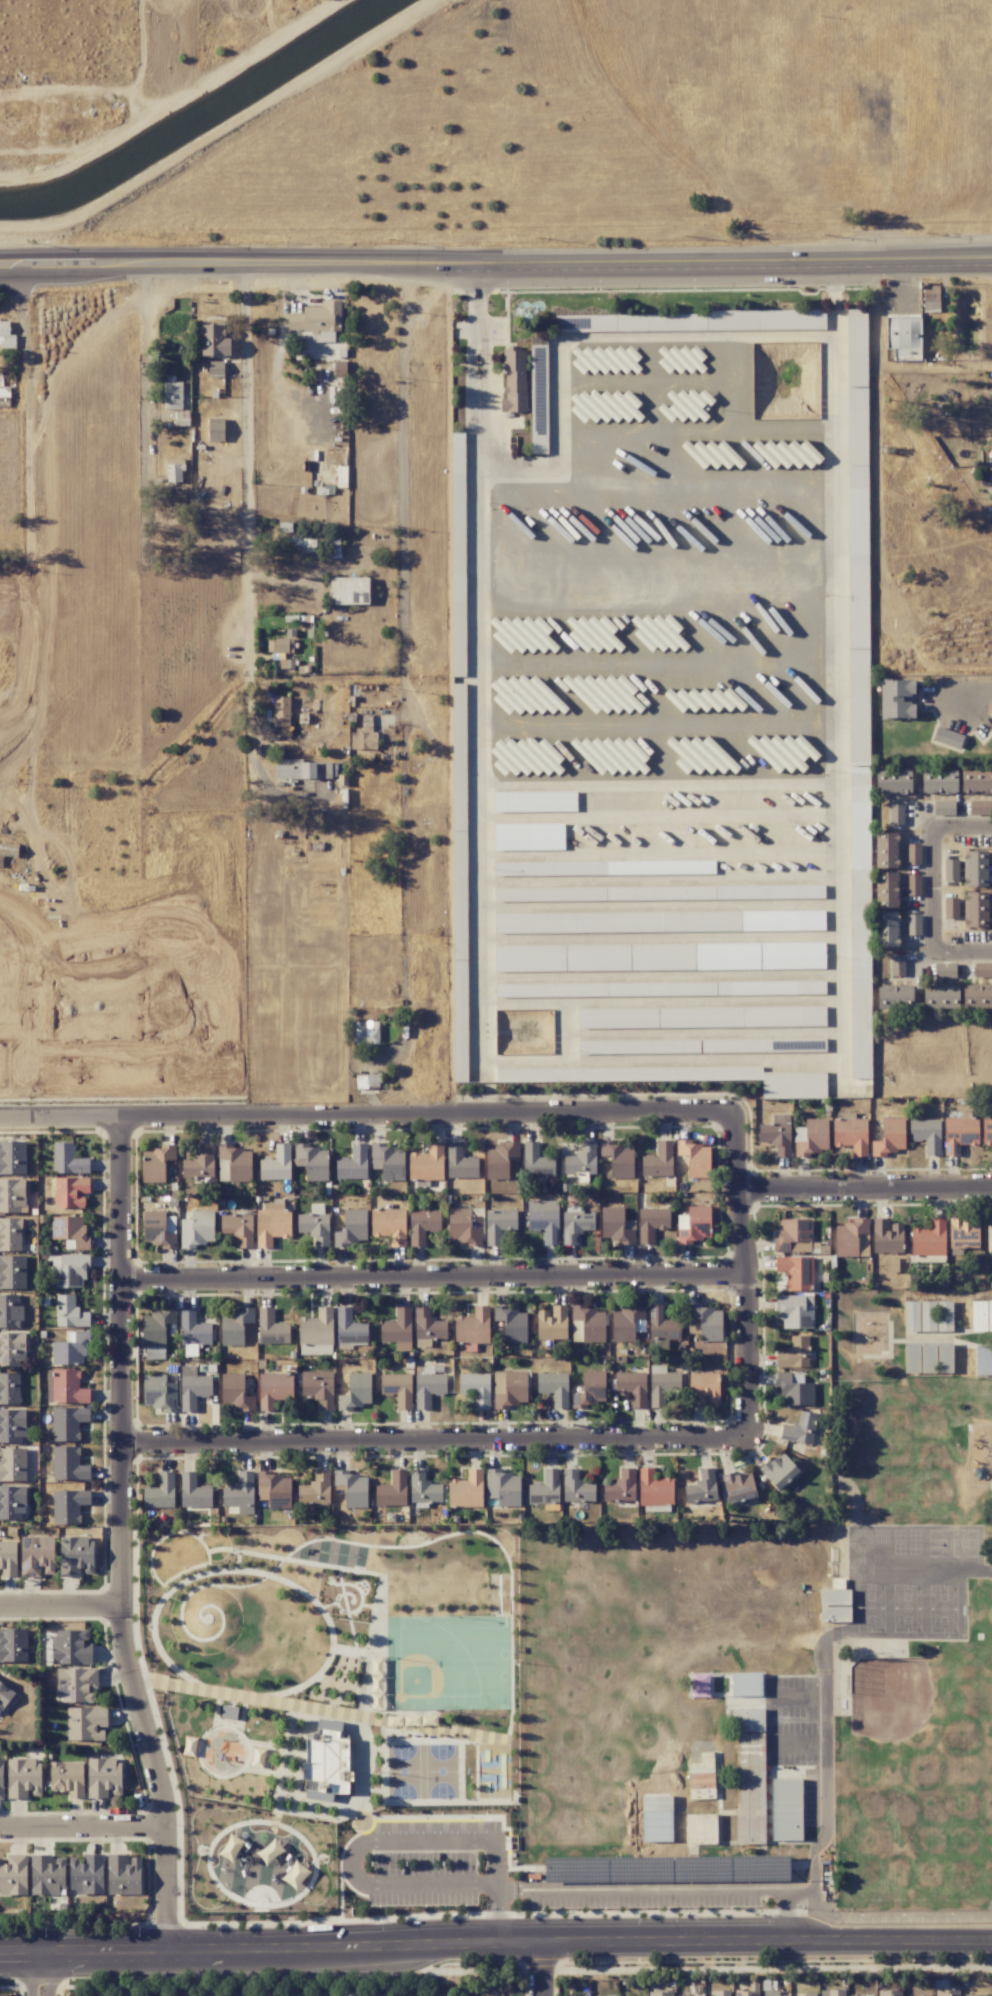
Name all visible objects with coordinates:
road: (495, 262)
building: (930, 298)
building: (765, 319)
building: (319, 320)
building: (680, 321)
building: (596, 323)
building: (6, 335)
building: (903, 335)
building: (214, 341)
building: (856, 347)
road: (142, 357)
building: (684, 358)
building: (603, 359)
building: (215, 368)
building: (514, 381)
building: (172, 393)
building: (694, 405)
building: (605, 406)
road: (246, 410)
building: (538, 410)
building: (216, 429)
building: (857, 433)
building: (789, 454)
building: (174, 470)
road: (403, 472)
building: (300, 543)
road: (661, 573)
building: (349, 590)
building: (598, 632)
building: (658, 632)
building: (522, 634)
building: (279, 645)
road: (249, 674)
building: (605, 687)
building: (524, 695)
road: (975, 697)
building: (704, 699)
building: (896, 699)
building: (281, 711)
building: (364, 735)
building: (948, 738)
building: (587, 747)
building: (784, 752)
building: (526, 757)
building: (303, 769)
building: (939, 781)
building: (976, 781)
building: (893, 782)
building: (535, 801)
building: (980, 807)
building: (943, 808)
building: (896, 814)
building: (528, 837)
building: (887, 850)
building: (912, 854)
building: (975, 868)
building: (951, 869)
building: (912, 885)
building: (887, 889)
road: (933, 890)
building: (951, 908)
building: (976, 909)
building: (760, 920)
building: (569, 922)
building: (913, 925)
building: (887, 929)
building: (792, 955)
building: (728, 956)
building: (530, 957)
building: (603, 957)
building: (897, 965)
building: (944, 970)
building: (982, 970)
building: (894, 997)
building: (940, 997)
building: (977, 997)
building: (746, 1016)
building: (365, 1033)
building: (806, 1044)
building: (794, 1084)
road: (367, 1123)
building: (987, 1130)
building: (776, 1133)
building: (850, 1133)
building: (959, 1134)
building: (926, 1135)
building: (811, 1137)
building: (890, 1137)
building: (12, 1158)
building: (695, 1158)
building: (68, 1159)
building: (619, 1159)
building: (387, 1160)
building: (499, 1160)
building: (535, 1160)
building: (581, 1160)
building: (658, 1160)
building: (312, 1162)
building: (460, 1162)
building: (155, 1163)
building: (199, 1163)
building: (352, 1163)
building: (427, 1163)
building: (234, 1164)
building: (276, 1164)
road: (864, 1190)
building: (70, 1191)
building: (12, 1195)
building: (544, 1219)
building: (652, 1223)
building: (272, 1224)
building: (499, 1224)
building: (575, 1224)
building: (694, 1224)
building: (315, 1225)
building: (389, 1225)
building: (422, 1225)
building: (464, 1225)
building: (616, 1226)
building: (352, 1228)
building: (159, 1229)
building: (197, 1229)
building: (70, 1232)
building: (963, 1233)
building: (10, 1234)
building: (793, 1236)
building: (887, 1236)
building: (989, 1238)
building: (851, 1239)
building: (929, 1239)
building: (69, 1271)
building: (12, 1272)
building: (796, 1272)
road: (429, 1280)
road: (740, 1283)
building: (10, 1311)
building: (795, 1311)
building: (70, 1312)
building: (936, 1315)
building: (981, 1315)
building: (911, 1316)
building: (708, 1322)
building: (552, 1323)
building: (625, 1323)
building: (513, 1324)
building: (587, 1324)
building: (662, 1324)
building: (428, 1325)
building: (235, 1326)
building: (156, 1327)
building: (272, 1328)
building: (350, 1328)
building: (398, 1329)
building: (470, 1329)
building: (193, 1330)
building: (315, 1330)
building: (12, 1349)
building: (70, 1349)
building: (794, 1353)
building: (944, 1357)
building: (911, 1358)
building: (983, 1360)
building: (662, 1384)
building: (428, 1386)
building: (68, 1387)
building: (318, 1387)
building: (632, 1387)
building: (10, 1388)
building: (193, 1388)
building: (472, 1388)
building: (510, 1388)
building: (554, 1388)
building: (398, 1389)
building: (591, 1389)
building: (703, 1389)
building: (794, 1389)
building: (274, 1390)
building: (357, 1391)
building: (159, 1392)
building: (235, 1393)
building: (68, 1423)
building: (12, 1425)
road: (432, 1446)
building: (13, 1464)
building: (68, 1464)
building: (779, 1470)
building: (546, 1485)
building: (738, 1485)
building: (503, 1487)
building: (620, 1487)
building: (702, 1487)
building: (352, 1488)
building: (424, 1488)
building: (577, 1488)
building: (654, 1488)
building: (274, 1489)
building: (315, 1490)
building: (392, 1490)
building: (466, 1490)
building: (193, 1491)
building: (160, 1492)
building: (239, 1493)
building: (12, 1502)
building: (68, 1506)
road: (119, 1537)
building: (37, 1556)
building: (76, 1556)
building: (8, 1558)
building: (835, 1597)
road: (59, 1607)
building: (831, 1614)
building: (13, 1645)
building: (71, 1647)
building: (76, 1684)
building: (748, 1684)
building: (701, 1685)
building: (4, 1694)
building: (228, 1712)
building: (747, 1720)
building: (86, 1723)
building: (329, 1725)
building: (189, 1746)
building: (257, 1757)
building: (751, 1770)
building: (103, 1777)
building: (1, 1778)
building: (23, 1778)
building: (67, 1778)
road: (827, 1783)
building: (788, 1809)
building: (701, 1827)
road: (82, 1829)
building: (231, 1848)
building: (667, 1854)
building: (47, 1874)
building: (86, 1874)
building: (13, 1875)
building: (124, 1875)
building: (295, 1875)
road: (475, 1886)
road: (785, 1913)
road: (893, 1913)
road: (496, 1914)
road: (495, 1943)
road: (543, 1969)
road: (32, 1972)
road: (49, 1972)
building: (947, 1992)
building: (661, 1993)
building: (721, 1993)
building: (746, 1993)
building: (773, 1993)
building: (832, 1993)
building: (889, 1993)
building: (809, 1994)
building: (860, 1995)
building: (970, 1995)

